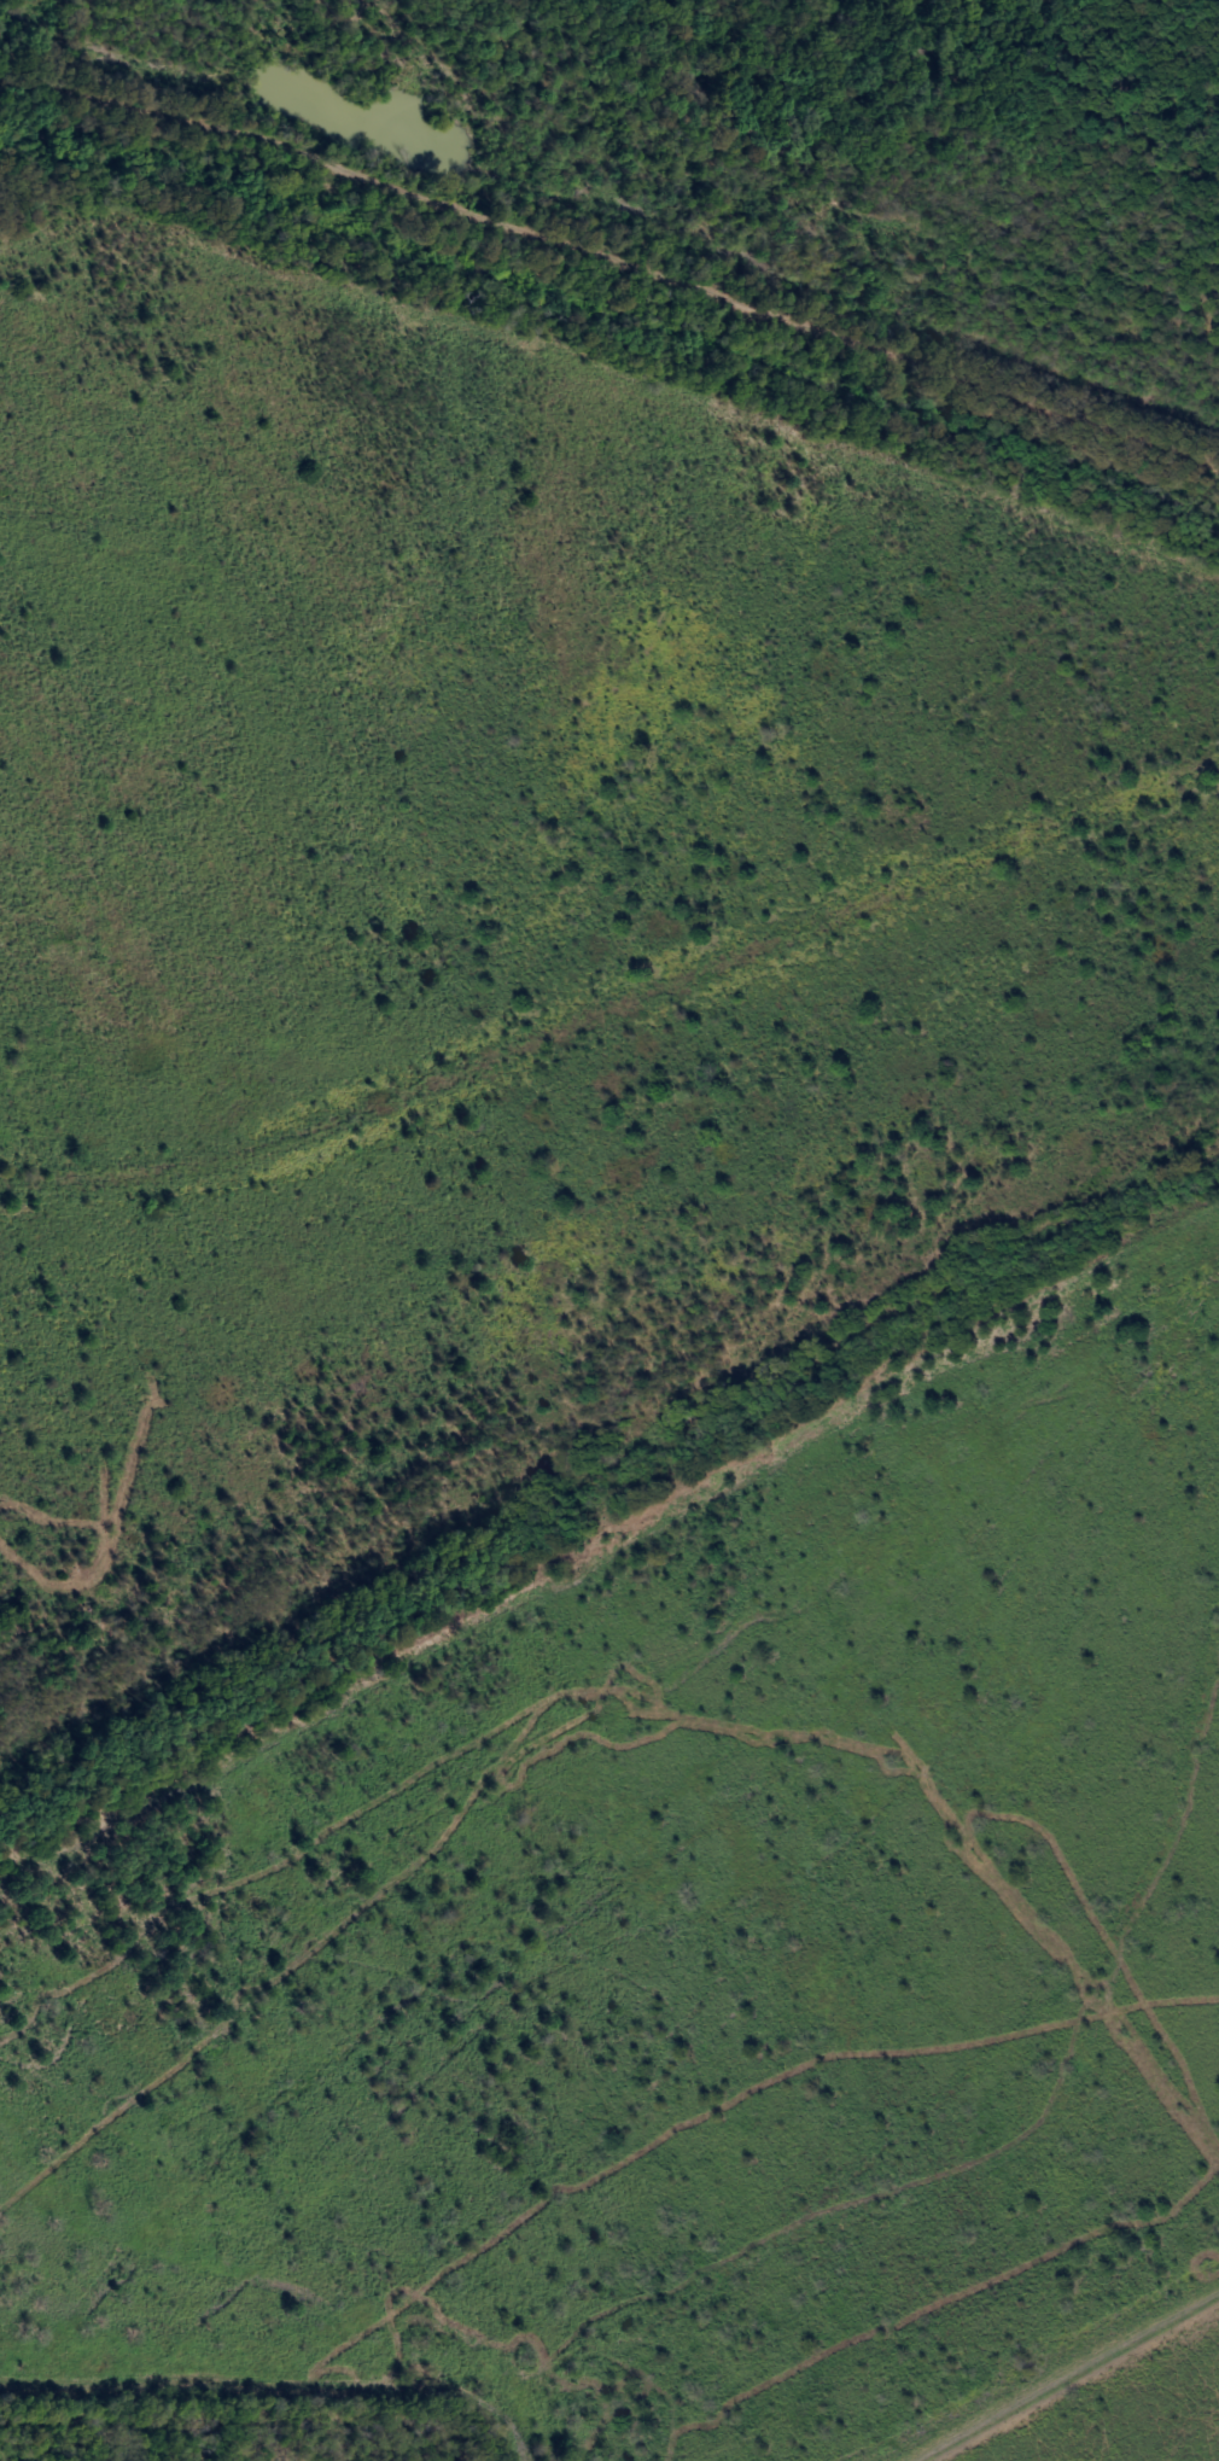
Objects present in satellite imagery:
road: (1057, 2372)

